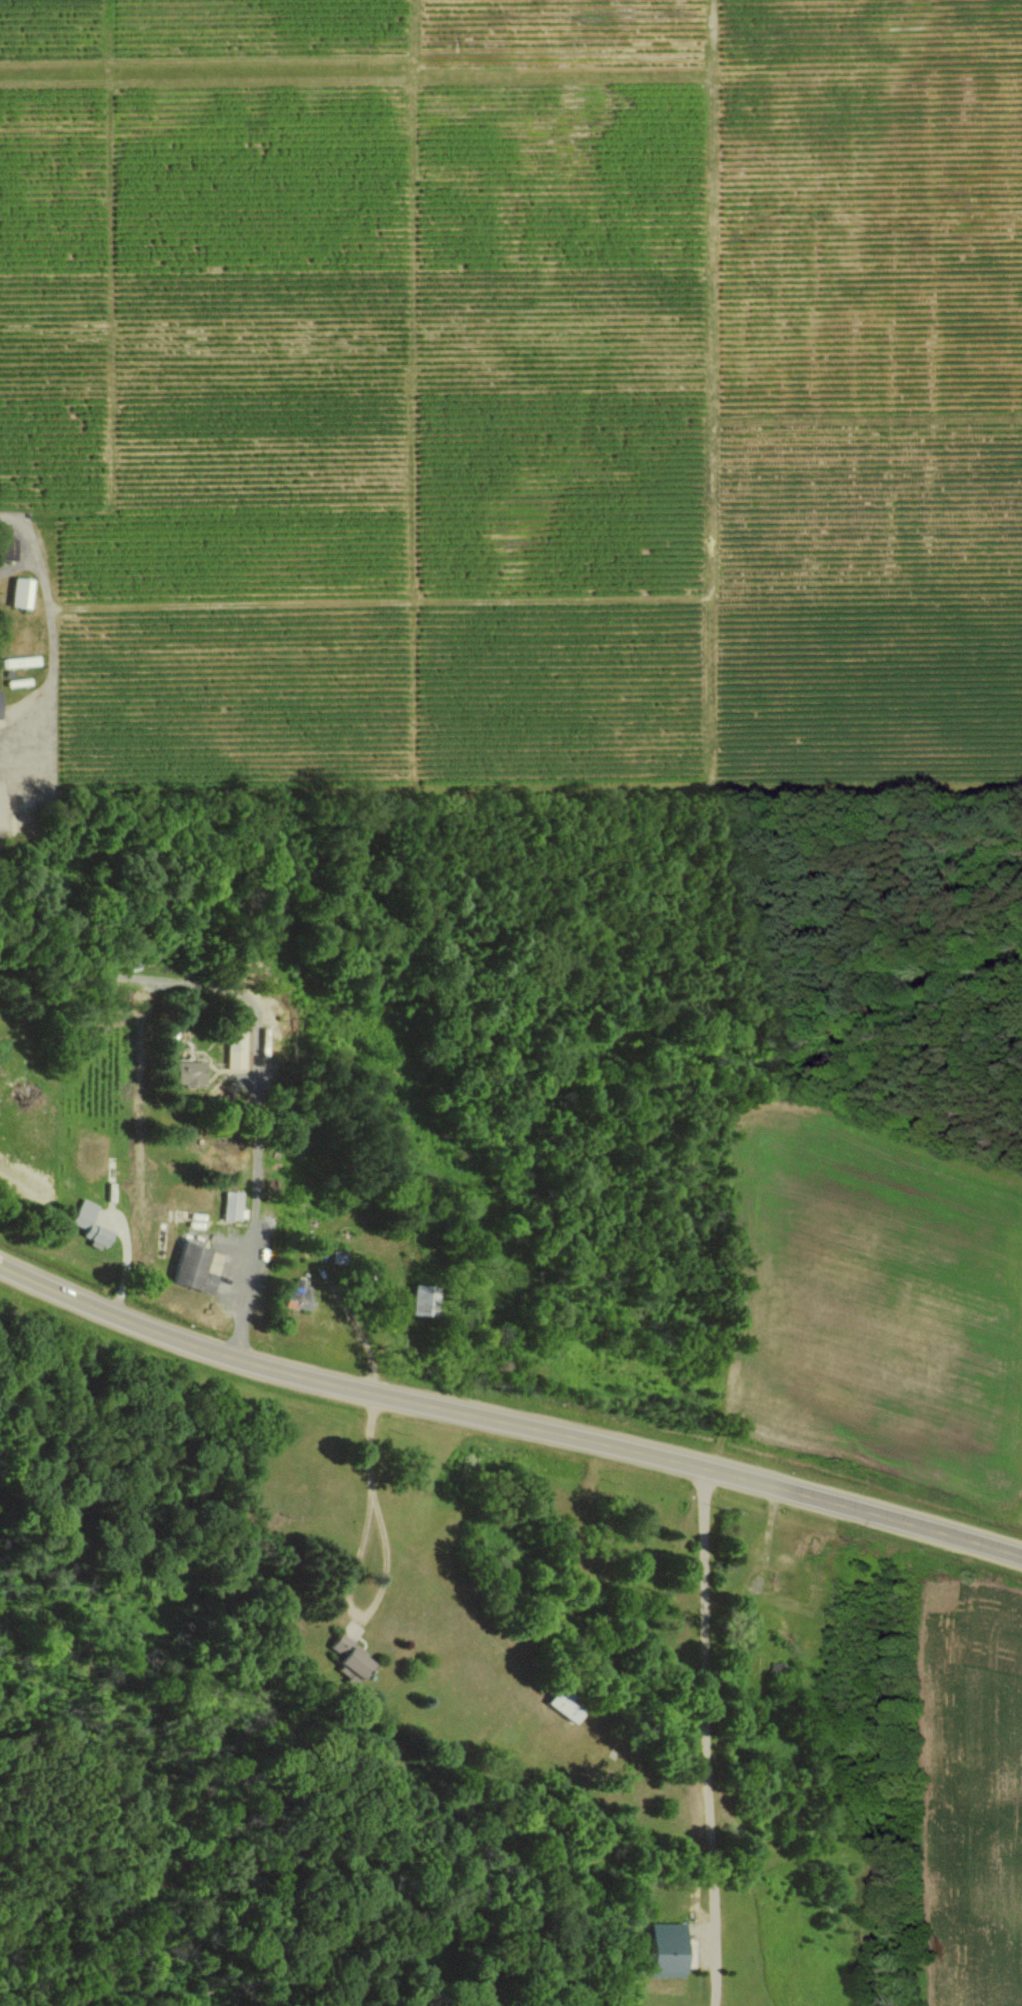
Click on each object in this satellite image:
building: (6, 545)
road: (19, 566)
building: (16, 592)
road: (49, 644)
building: (233, 1038)
building: (182, 1072)
building: (229, 1205)
building: (87, 1223)
building: (189, 1267)
building: (291, 1294)
building: (416, 1300)
road: (355, 1335)
road: (505, 1426)
road: (377, 1572)
building: (345, 1657)
building: (558, 1705)
road: (703, 1739)
building: (662, 1949)

